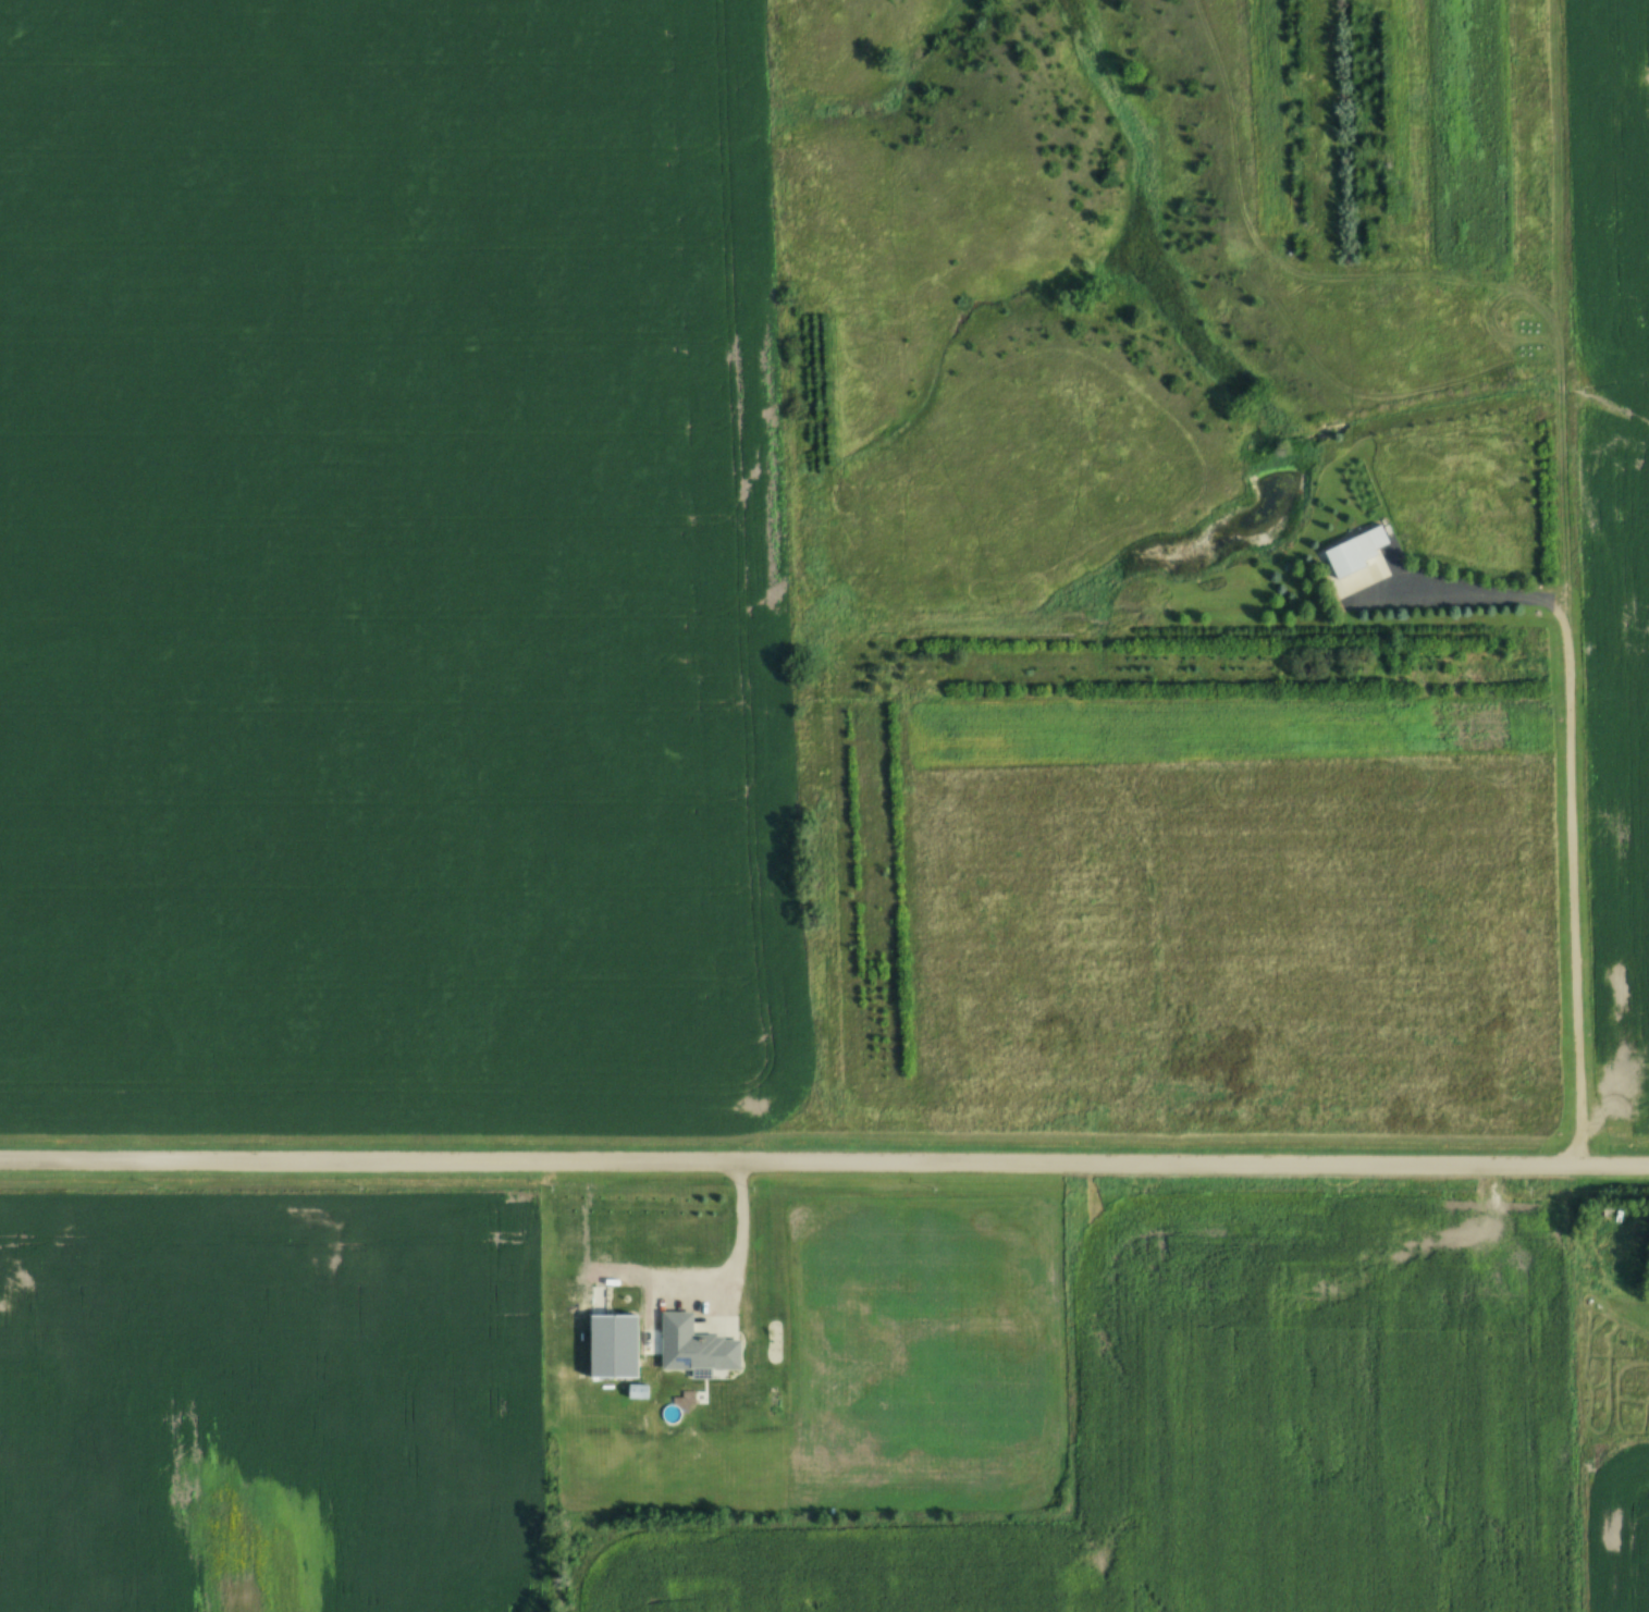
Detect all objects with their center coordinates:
building: (1346, 556)
crop: (393, 567)
building: (1343, 590)
road: (1563, 798)
road: (824, 1159)
road: (742, 1245)
building: (677, 1336)
building: (647, 1392)

